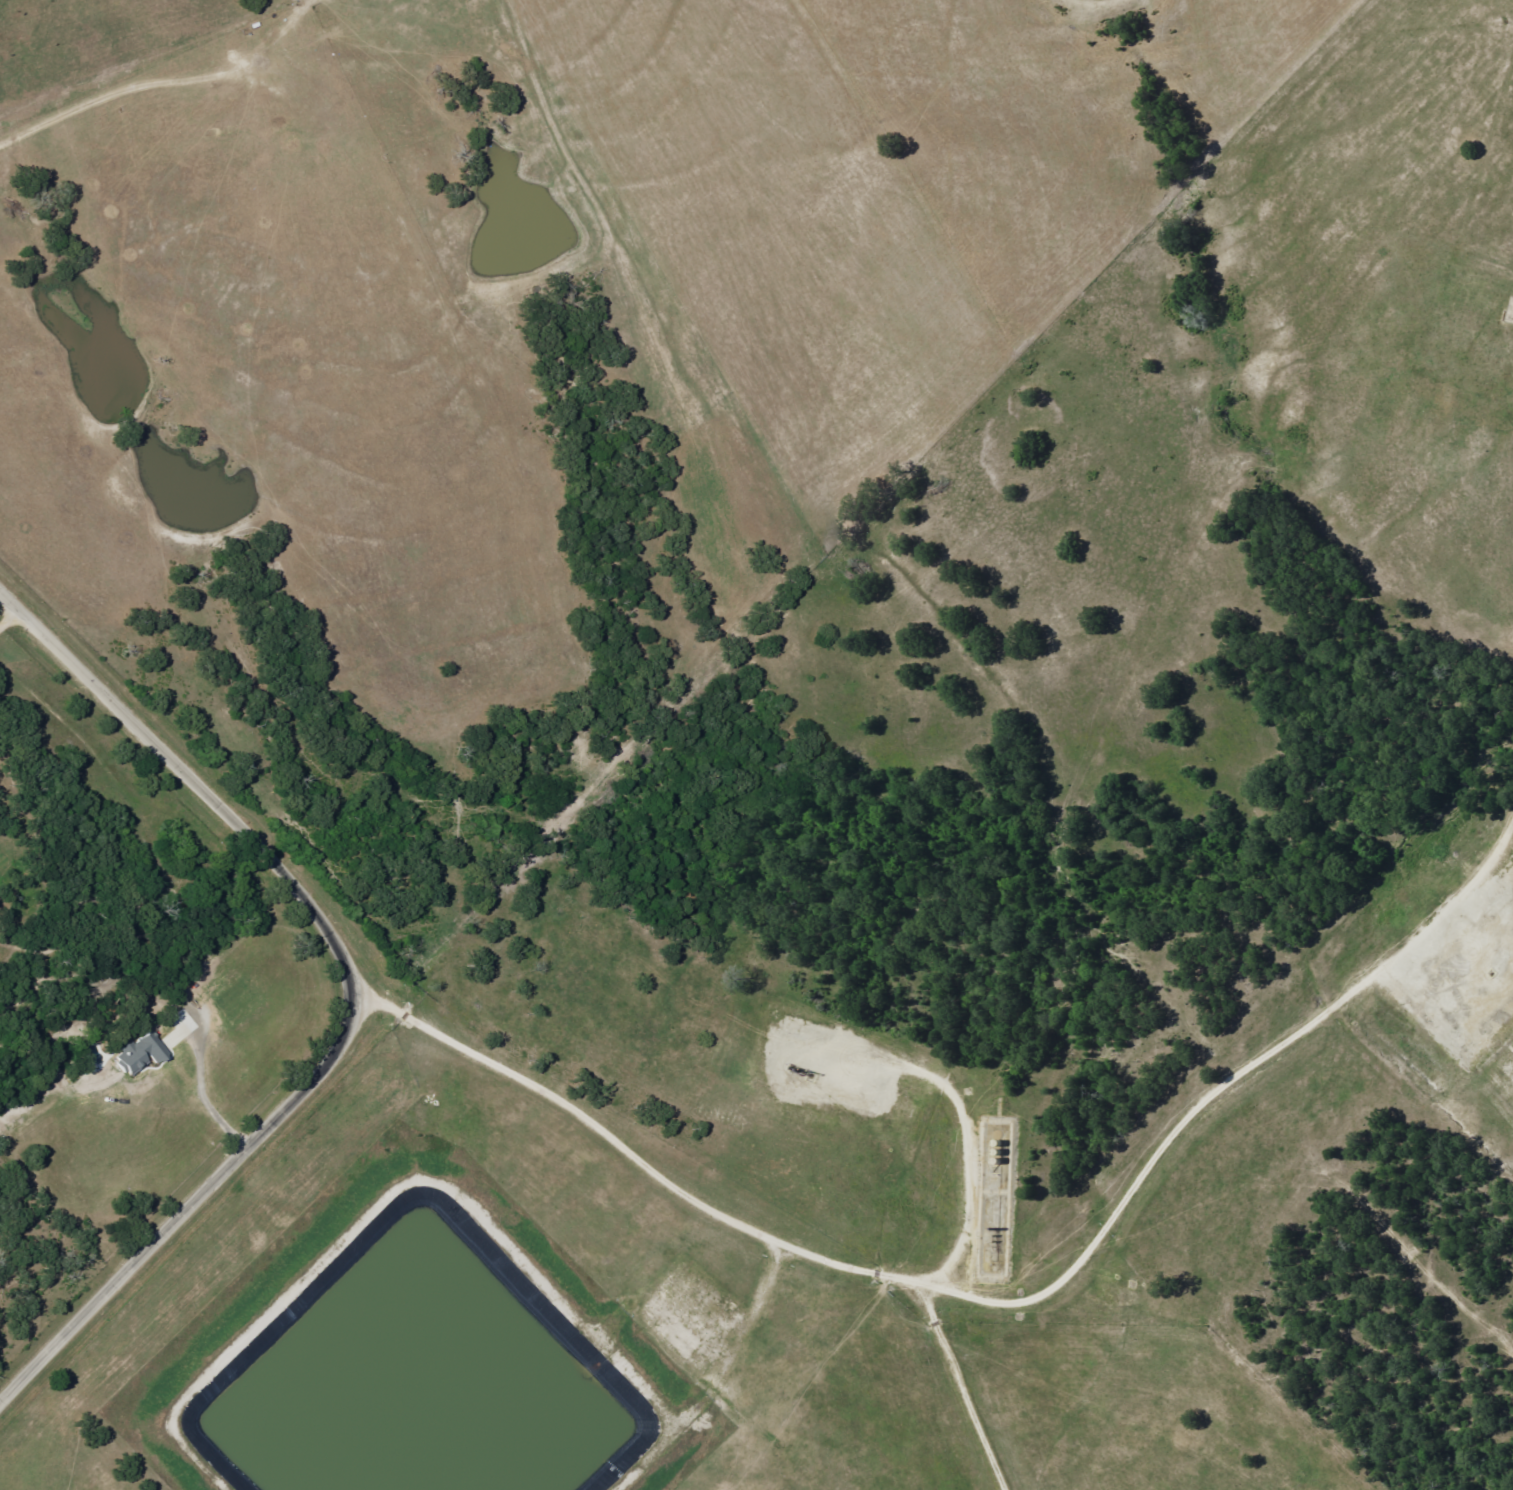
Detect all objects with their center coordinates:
petroleum well: (1505, 960)
road: (358, 995)
building: (136, 1053)
petroleum well: (805, 1073)
road: (206, 1095)
road: (81, 1430)

